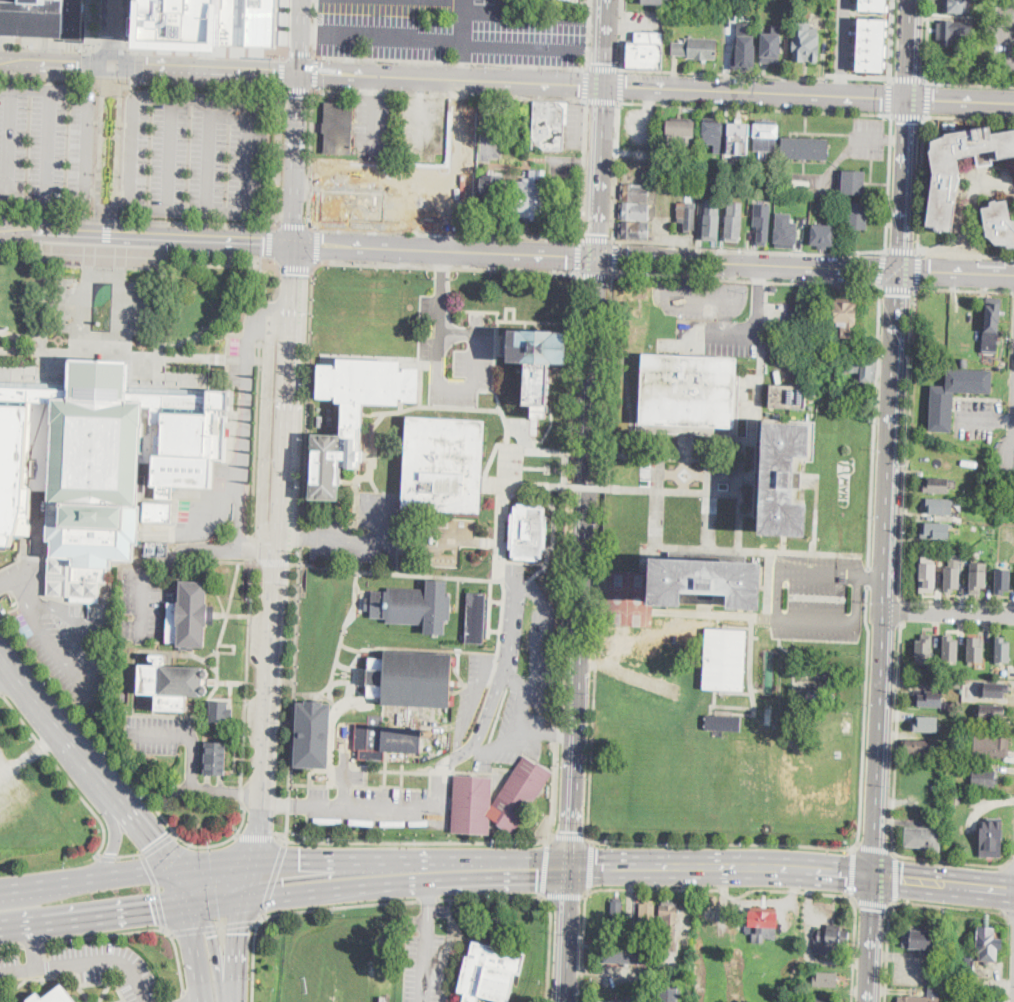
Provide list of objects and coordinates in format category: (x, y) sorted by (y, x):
building: (885, 0)
road: (441, 1)
building: (568, 1)
building: (659, 2)
building: (875, 5)
building: (959, 6)
road: (505, 8)
road: (135, 10)
road: (880, 15)
road: (526, 16)
building: (42, 18)
parking lot: (42, 18)
road: (594, 19)
parking lot: (210, 23)
building: (215, 23)
building: (874, 23)
road: (87, 25)
building: (135, 25)
road: (128, 26)
road: (316, 27)
road: (287, 30)
parking lot: (444, 31)
building: (956, 31)
road: (113, 32)
road: (587, 33)
road: (621, 34)
building: (873, 34)
parking lot: (1004, 36)
road: (1011, 36)
road: (298, 37)
road: (383, 39)
road: (891, 40)
building: (806, 41)
road: (926, 41)
road: (113, 42)
road: (127, 43)
road: (604, 43)
road: (50, 44)
road: (504, 44)
building: (771, 44)
building: (872, 44)
road: (593, 48)
road: (843, 48)
building: (696, 49)
building: (745, 49)
road: (912, 49)
building: (646, 51)
road: (211, 54)
road: (301, 55)
building: (871, 55)
road: (450, 61)
traffic signals: (604, 61)
road: (56, 62)
road: (86, 62)
road: (467, 62)
road: (139, 63)
traffic signals: (113, 65)
building: (871, 65)
road: (602, 67)
road: (204, 69)
road: (315, 71)
road: (282, 72)
traffic signals: (275, 73)
road: (757, 73)
traffic signals: (322, 75)
road: (85, 77)
road: (909, 78)
road: (450, 79)
road: (139, 80)
road: (585, 82)
road: (143, 83)
road: (619, 84)
road: (971, 84)
traffic signals: (579, 85)
traffic signals: (627, 87)
road: (43, 89)
road: (299, 90)
road: (449, 92)
road: (757, 92)
traffic signals: (296, 95)
road: (889, 96)
traffic signals: (882, 98)
road: (927, 98)
road: (171, 99)
road: (602, 100)
traffic signals: (934, 101)
road: (253, 102)
road: (962, 102)
road: (756, 106)
road: (375, 112)
road: (908, 115)
road: (420, 116)
road: (484, 116)
road: (969, 117)
road: (229, 118)
traffic signals: (909, 121)
building: (546, 123)
parking lot: (573, 123)
parking lot: (373, 125)
building: (339, 128)
parking lot: (419, 128)
road: (310, 129)
parking lot: (462, 131)
building: (714, 131)
parking lot: (489, 132)
building: (680, 132)
building: (766, 135)
road: (8, 137)
parking lot: (867, 137)
road: (895, 138)
building: (739, 139)
parking lot: (46, 143)
road: (47, 145)
road: (85, 147)
road: (101, 149)
building: (804, 149)
road: (118, 150)
road: (845, 151)
road: (130, 152)
road: (168, 154)
parking lot: (198, 154)
road: (208, 155)
road: (279, 156)
road: (294, 158)
road: (456, 165)
road: (247, 166)
road: (581, 168)
road: (617, 170)
road: (599, 171)
road: (308, 178)
road: (374, 180)
building: (854, 182)
building: (392, 183)
building: (798, 183)
road: (888, 183)
road: (921, 183)
road: (905, 184)
building: (945, 184)
road: (3, 185)
parking lot: (822, 185)
road: (420, 186)
road: (386, 187)
building: (729, 189)
building: (492, 190)
road: (5, 192)
building: (635, 192)
building: (531, 195)
road: (2, 198)
road: (43, 200)
building: (347, 206)
road: (187, 210)
road: (308, 210)
building: (634, 211)
building: (687, 216)
building: (859, 216)
road: (140, 219)
road: (107, 221)
building: (712, 221)
building: (734, 222)
building: (762, 222)
building: (999, 223)
road: (295, 225)
building: (634, 230)
road: (448, 231)
building: (786, 232)
road: (53, 233)
traffic signals: (597, 234)
road: (107, 235)
building: (824, 235)
road: (200, 239)
road: (596, 239)
road: (271, 241)
traffic signals: (264, 242)
traffic signals: (324, 245)
road: (317, 246)
road: (749, 249)
road: (901, 249)
road: (444, 251)
road: (966, 253)
road: (106, 254)
road: (577, 255)
traffic signals: (568, 256)
road: (137, 258)
road: (614, 258)
traffic signals: (628, 258)
road: (269, 260)
road: (374, 263)
road: (748, 263)
road: (442, 266)
road: (167, 267)
road: (295, 268)
traffic signals: (871, 268)
road: (882, 268)
road: (514, 270)
road: (918, 271)
traffic signals: (930, 271)
road: (957, 272)
traffic signals: (292, 273)
road: (441, 274)
road: (595, 275)
road: (746, 282)
road: (278, 284)
road: (658, 284)
road: (898, 286)
road: (965, 289)
road: (449, 292)
traffic signals: (900, 294)
parking lot: (703, 298)
road: (709, 301)
road: (762, 303)
fountain: (103, 305)
road: (44, 313)
building: (845, 317)
road: (218, 318)
road: (262, 318)
road: (161, 321)
building: (992, 325)
road: (21, 336)
parking lot: (456, 353)
road: (497, 353)
road: (129, 355)
building: (535, 362)
building: (863, 369)
road: (457, 387)
building: (367, 388)
building: (687, 390)
building: (788, 396)
road: (307, 399)
building: (942, 412)
parking lot: (977, 417)
road: (980, 417)
road: (1007, 418)
road: (268, 421)
road: (247, 423)
road: (874, 426)
building: (728, 430)
road: (256, 438)
road: (893, 442)
road: (907, 444)
road: (549, 452)
road: (591, 454)
road: (636, 455)
building: (446, 462)
building: (99, 464)
building: (324, 466)
building: (785, 475)
building: (937, 485)
road: (547, 486)
road: (589, 487)
road: (635, 489)
building: (938, 506)
building: (158, 511)
parking lot: (330, 528)
building: (936, 529)
building: (529, 532)
road: (290, 537)
road: (265, 540)
road: (363, 542)
road: (251, 547)
road: (278, 553)
road: (601, 557)
road: (565, 558)
road: (276, 560)
road: (296, 562)
road: (582, 562)
road: (170, 566)
road: (792, 571)
road: (867, 575)
road: (873, 575)
building: (928, 577)
building: (977, 577)
building: (844, 578)
building: (706, 579)
building: (952, 579)
road: (4, 580)
building: (1003, 580)
park: (614, 596)
parking lot: (816, 596)
park: (639, 597)
road: (957, 602)
parking lot: (140, 606)
building: (414, 606)
road: (901, 611)
building: (189, 613)
road: (949, 616)
building: (477, 618)
road: (841, 620)
parking lot: (59, 634)
building: (951, 649)
building: (976, 649)
building: (924, 650)
building: (1003, 650)
building: (725, 658)
road: (592, 662)
road: (88, 670)
building: (1011, 671)
road: (5, 673)
parking lot: (516, 673)
road: (529, 674)
road: (639, 678)
building: (412, 679)
building: (170, 682)
road: (20, 683)
building: (957, 683)
road: (245, 684)
parking lot: (471, 688)
road: (294, 689)
building: (996, 689)
building: (930, 698)
building: (220, 712)
building: (992, 712)
road: (864, 717)
building: (722, 722)
building: (927, 724)
road: (186, 734)
road: (534, 734)
building: (314, 735)
parking lot: (164, 736)
road: (562, 736)
building: (386, 739)
road: (897, 739)
road: (880, 745)
road: (36, 746)
building: (992, 746)
road: (72, 748)
building: (920, 749)
building: (966, 752)
building: (216, 758)
road: (115, 761)
road: (450, 761)
building: (959, 767)
road: (62, 771)
road: (410, 771)
building: (985, 778)
road: (227, 788)
building: (495, 790)
parking lot: (20, 798)
building: (957, 799)
parking lot: (365, 801)
road: (276, 805)
building: (936, 810)
road: (140, 825)
traffic signals: (573, 831)
road: (116, 833)
road: (256, 836)
road: (571, 836)
building: (991, 837)
road: (281, 838)
building: (924, 838)
traffic signals: (153, 840)
road: (416, 843)
road: (722, 843)
road: (158, 844)
road: (874, 849)
road: (130, 855)
road: (107, 857)
road: (954, 860)
traffic signals: (301, 862)
road: (590, 862)
road: (1009, 864)
road: (332, 865)
road: (545, 868)
traffic signals: (598, 868)
road: (723, 868)
traffic signals: (539, 869)
road: (174, 870)
road: (490, 870)
road: (852, 872)
traffic signals: (843, 874)
road: (273, 877)
road: (895, 877)
traffic signals: (904, 881)
road: (250, 883)
road: (47, 884)
road: (944, 885)
road: (717, 887)
road: (329, 889)
road: (156, 890)
road: (427, 892)
road: (563, 895)
road: (872, 901)
road: (398, 903)
road: (953, 905)
traffic signals: (874, 908)
traffic signals: (153, 909)
road: (123, 912)
building: (617, 912)
road: (1008, 913)
building: (647, 916)
road: (213, 926)
building: (763, 926)
building: (669, 927)
road: (211, 931)
traffic signals: (240, 932)
road: (108, 933)
road: (194, 934)
traffic signals: (212, 935)
road: (568, 935)
road: (872, 939)
building: (390, 940)
building: (830, 941)
building: (918, 941)
road: (34, 942)
road: (11, 945)
road: (31, 945)
road: (550, 947)
road: (853, 947)
road: (582, 948)
road: (886, 949)
road: (238, 951)
building: (629, 953)
road: (253, 956)
road: (424, 957)
road: (85, 961)
building: (982, 961)
road: (179, 962)
parking lot: (88, 967)
parking lot: (424, 968)
building: (490, 973)
building: (826, 979)
building: (669, 995)
building: (53, 996)
road: (184, 997)
building: (921, 997)
building: (826, 1000)
building: (993, 1000)
building: (90, 1001)
road: (199, 1001)

